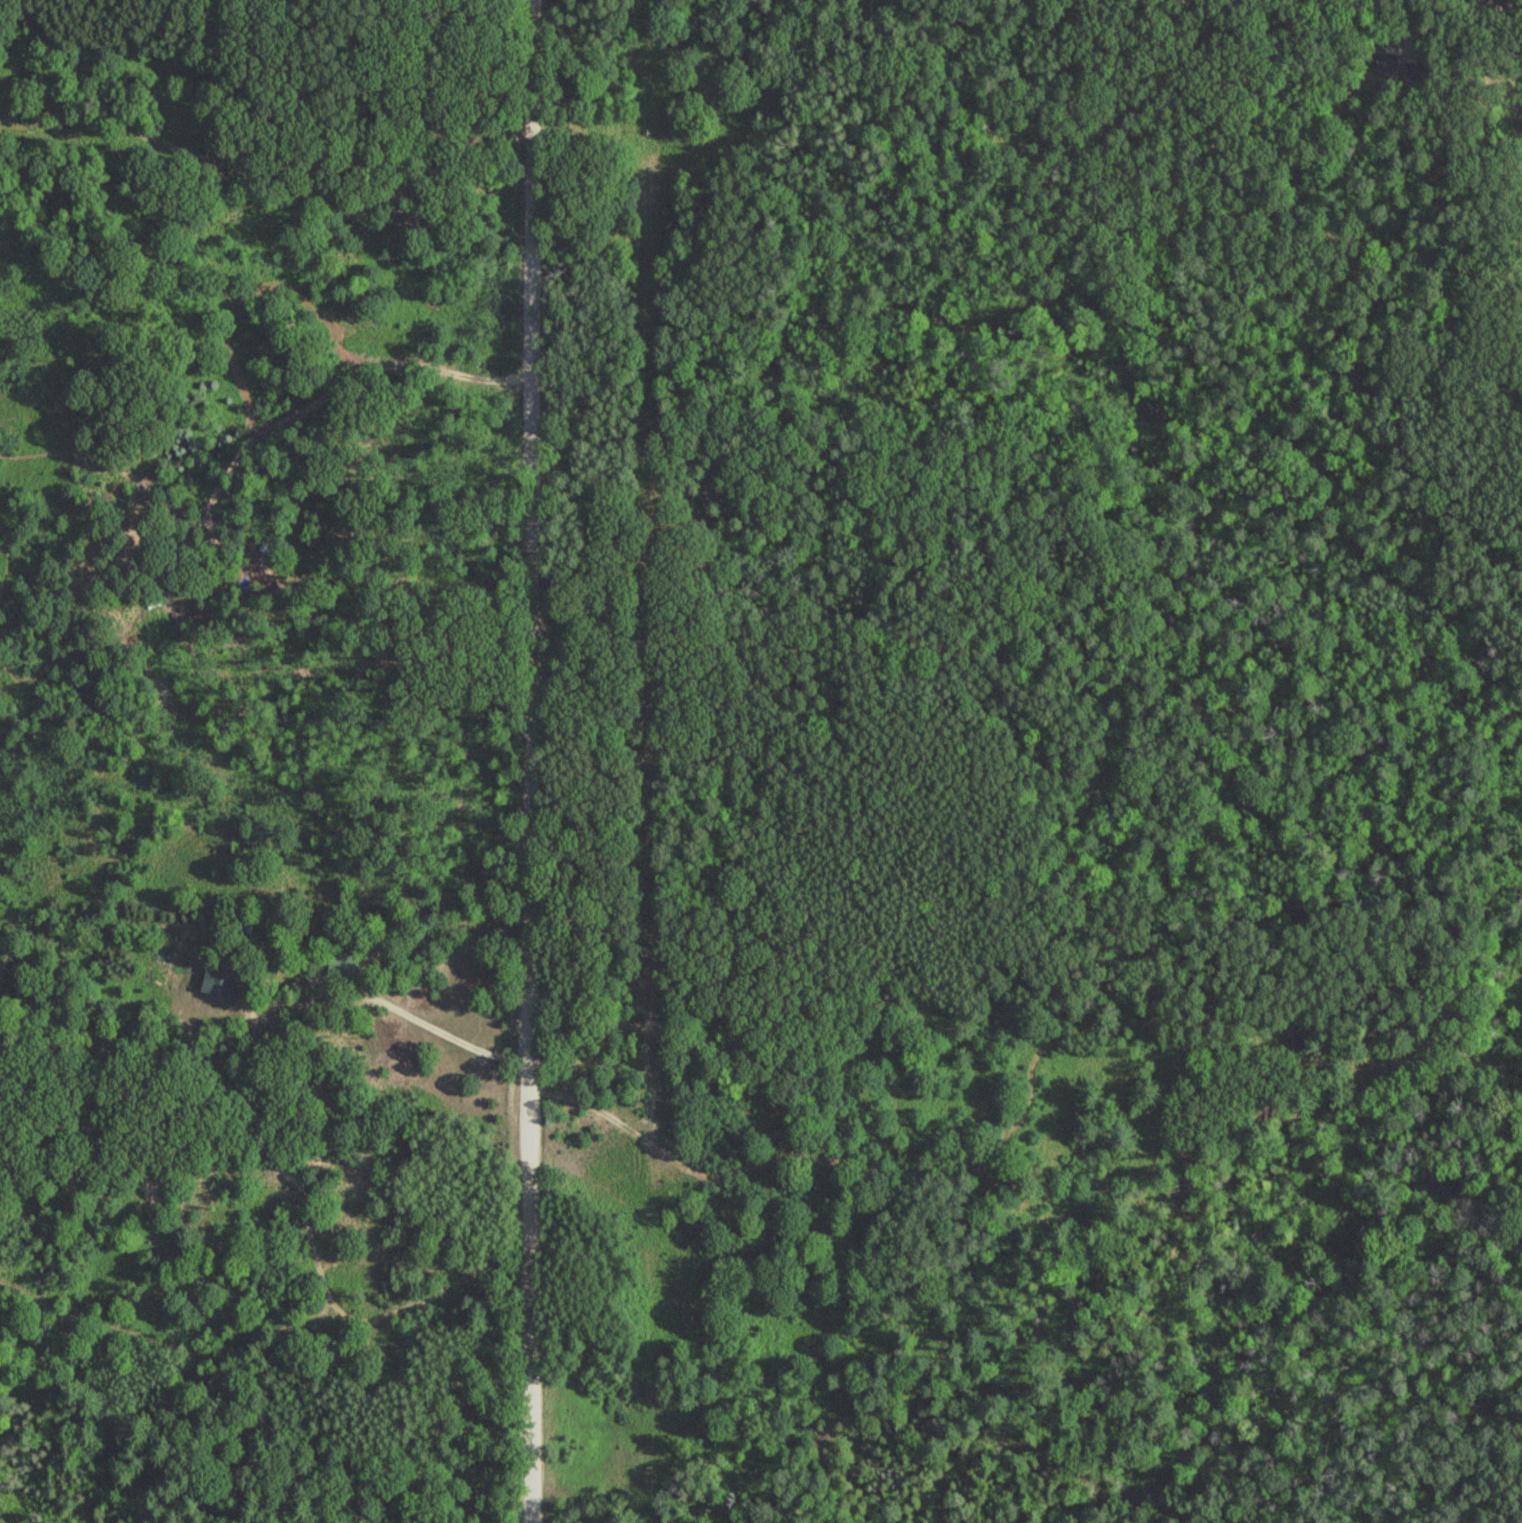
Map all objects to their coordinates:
road: (528, 761)
building: (344, 969)
building: (228, 980)
road: (337, 985)

